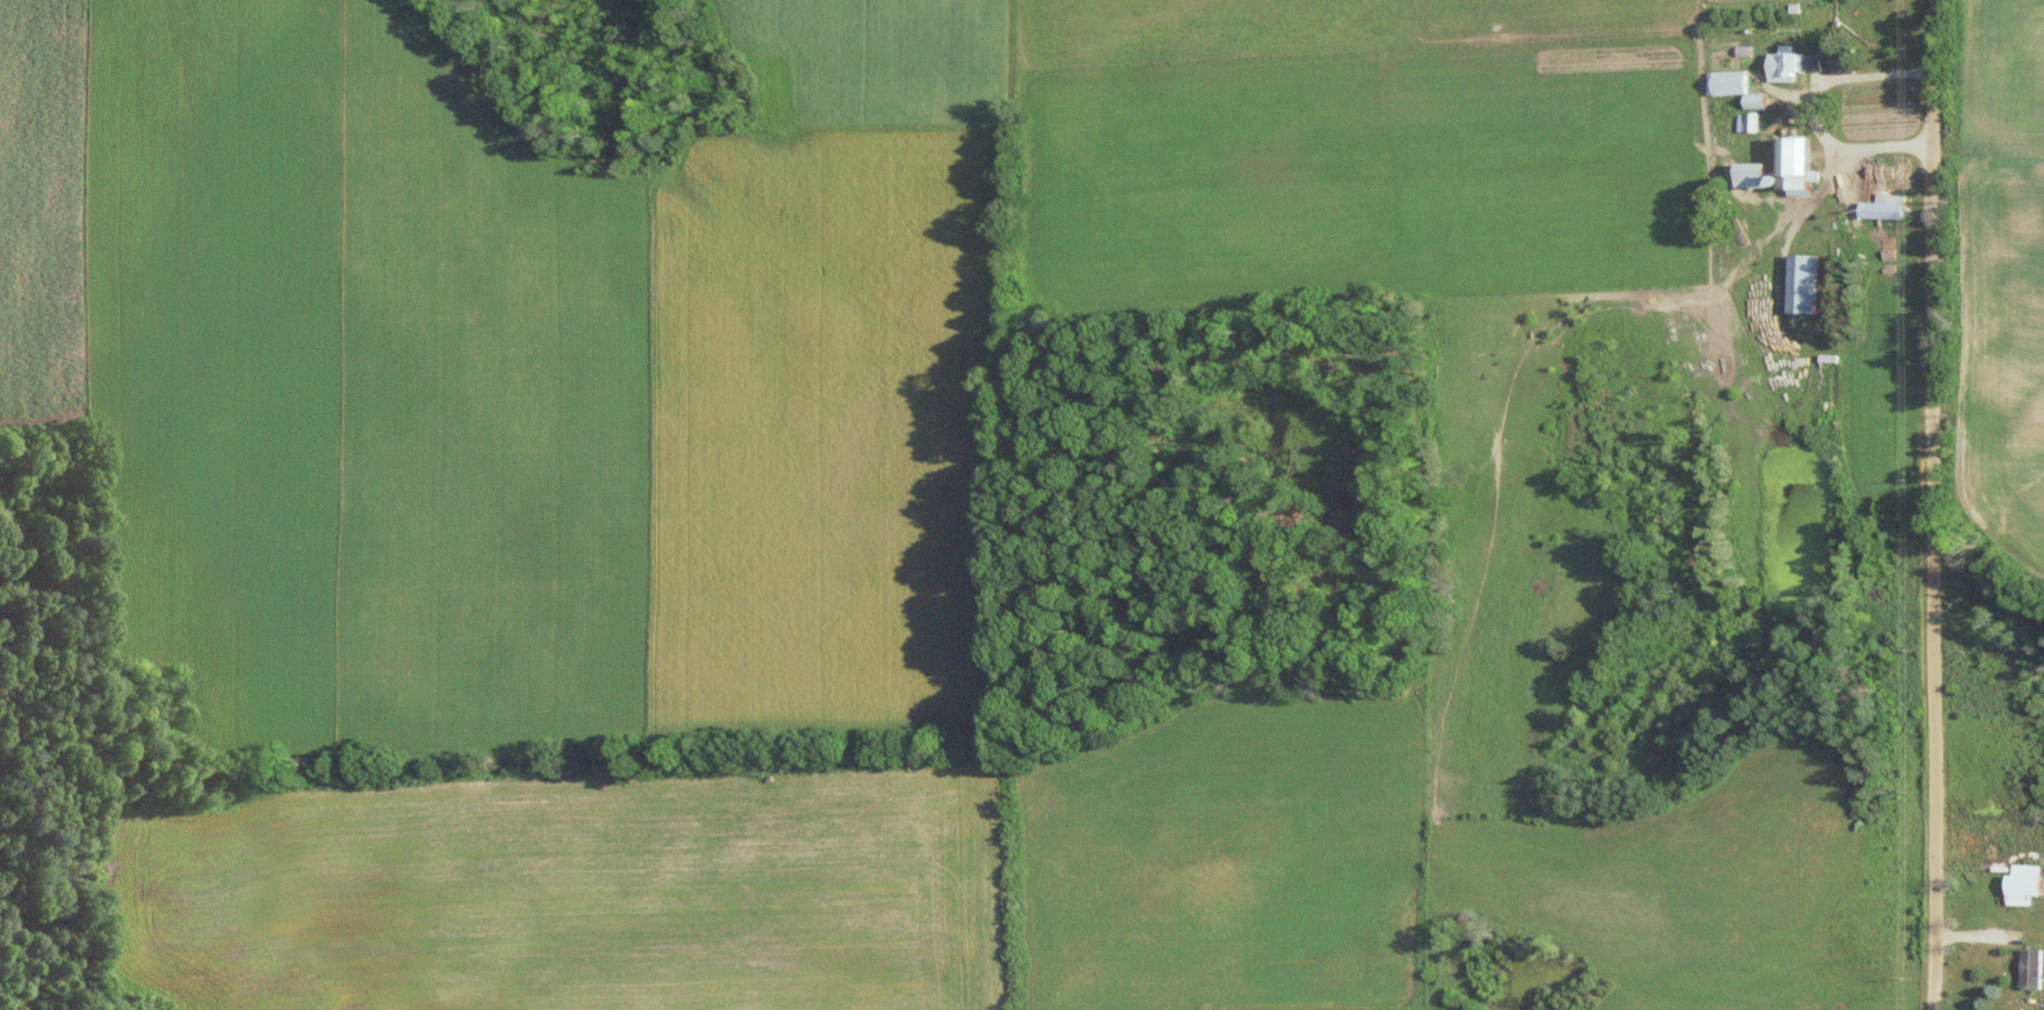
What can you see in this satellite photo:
building: (1852, 65)
building: (1753, 122)
building: (1802, 163)
building: (1761, 175)
building: (1889, 207)
building: (1808, 283)
building: (1830, 380)
road: (1922, 504)
building: (2027, 885)
building: (2034, 969)

